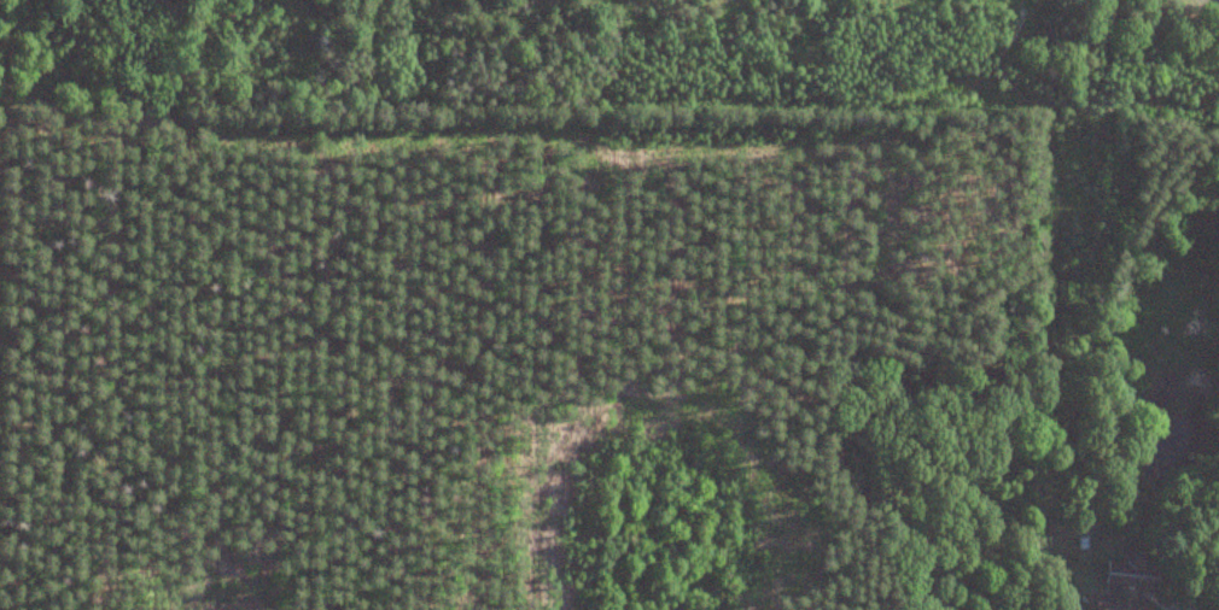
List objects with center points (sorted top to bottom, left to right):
building: (1121, 583)

